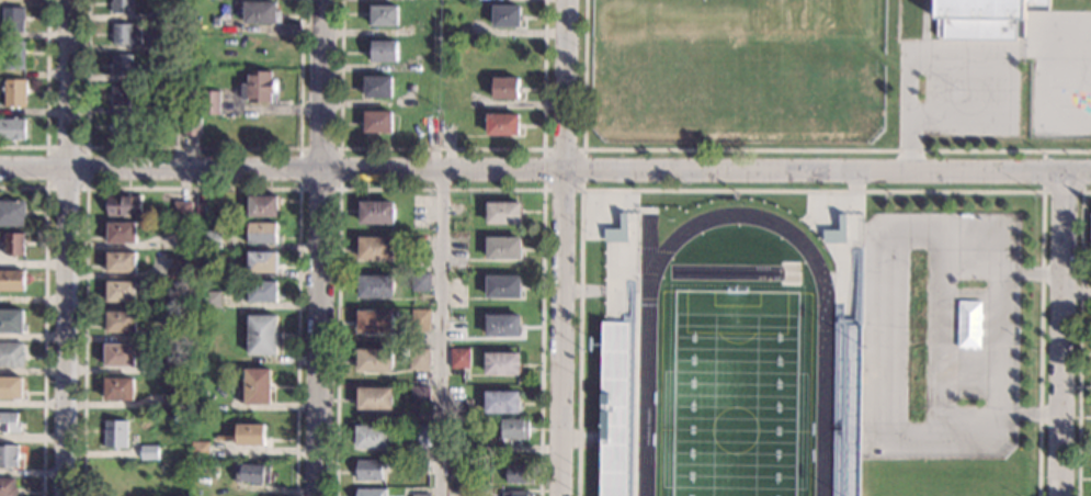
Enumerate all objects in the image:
building: (121, 7)
building: (259, 12)
building: (162, 15)
building: (384, 15)
building: (505, 15)
building: (12, 19)
building: (984, 19)
building: (125, 34)
building: (161, 41)
building: (383, 52)
building: (505, 53)
building: (13, 55)
building: (171, 56)
building: (123, 65)
building: (169, 74)
building: (257, 87)
building: (377, 87)
building: (504, 88)
parking lot: (968, 89)
building: (13, 93)
road: (46, 95)
building: (124, 95)
building: (209, 102)
building: (161, 106)
park: (1045, 119)
building: (377, 122)
building: (502, 124)
building: (120, 125)
building: (189, 125)
building: (12, 128)
road: (46, 146)
road: (192, 146)
road: (441, 147)
road: (762, 149)
road: (545, 170)
road: (190, 187)
road: (542, 187)
road: (338, 189)
road: (439, 189)
road: (809, 190)
road: (1042, 191)
building: (123, 206)
building: (262, 206)
building: (182, 211)
building: (11, 213)
building: (375, 213)
building: (503, 213)
building: (845, 215)
building: (1090, 229)
building: (121, 233)
building: (262, 233)
building: (212, 239)
building: (13, 244)
track: (647, 246)
road: (319, 247)
road: (67, 248)
building: (375, 248)
building: (503, 248)
road: (561, 248)
building: (120, 261)
building: (261, 262)
building: (180, 269)
track: (819, 272)
road: (1007, 272)
building: (11, 280)
building: (421, 282)
building: (375, 286)
building: (502, 286)
building: (123, 291)
building: (261, 291)
road: (1078, 295)
building: (211, 300)
building: (605, 300)
road: (43, 318)
building: (11, 320)
building: (420, 320)
building: (121, 322)
building: (374, 322)
building: (502, 326)
building: (177, 332)
road: (440, 332)
parking lot: (939, 334)
road: (1065, 334)
building: (261, 335)
road: (946, 335)
road: (1079, 338)
building: (11, 354)
building: (120, 356)
building: (459, 358)
building: (418, 359)
building: (374, 360)
building: (501, 363)
building: (172, 365)
track: (643, 385)
building: (254, 386)
building: (10, 387)
building: (118, 388)
park: (735, 392)
building: (419, 396)
building: (374, 398)
building: (174, 401)
building: (501, 402)
road: (1027, 412)
building: (9, 422)
building: (604, 425)
building: (514, 429)
road: (991, 432)
building: (114, 433)
building: (249, 435)
building: (420, 436)
building: (373, 437)
building: (198, 450)
building: (148, 452)
building: (8, 455)
building: (418, 467)
building: (370, 470)
building: (253, 473)
building: (462, 473)
building: (519, 474)
building: (7, 486)
building: (370, 492)
building: (420, 494)
building: (516, 494)

